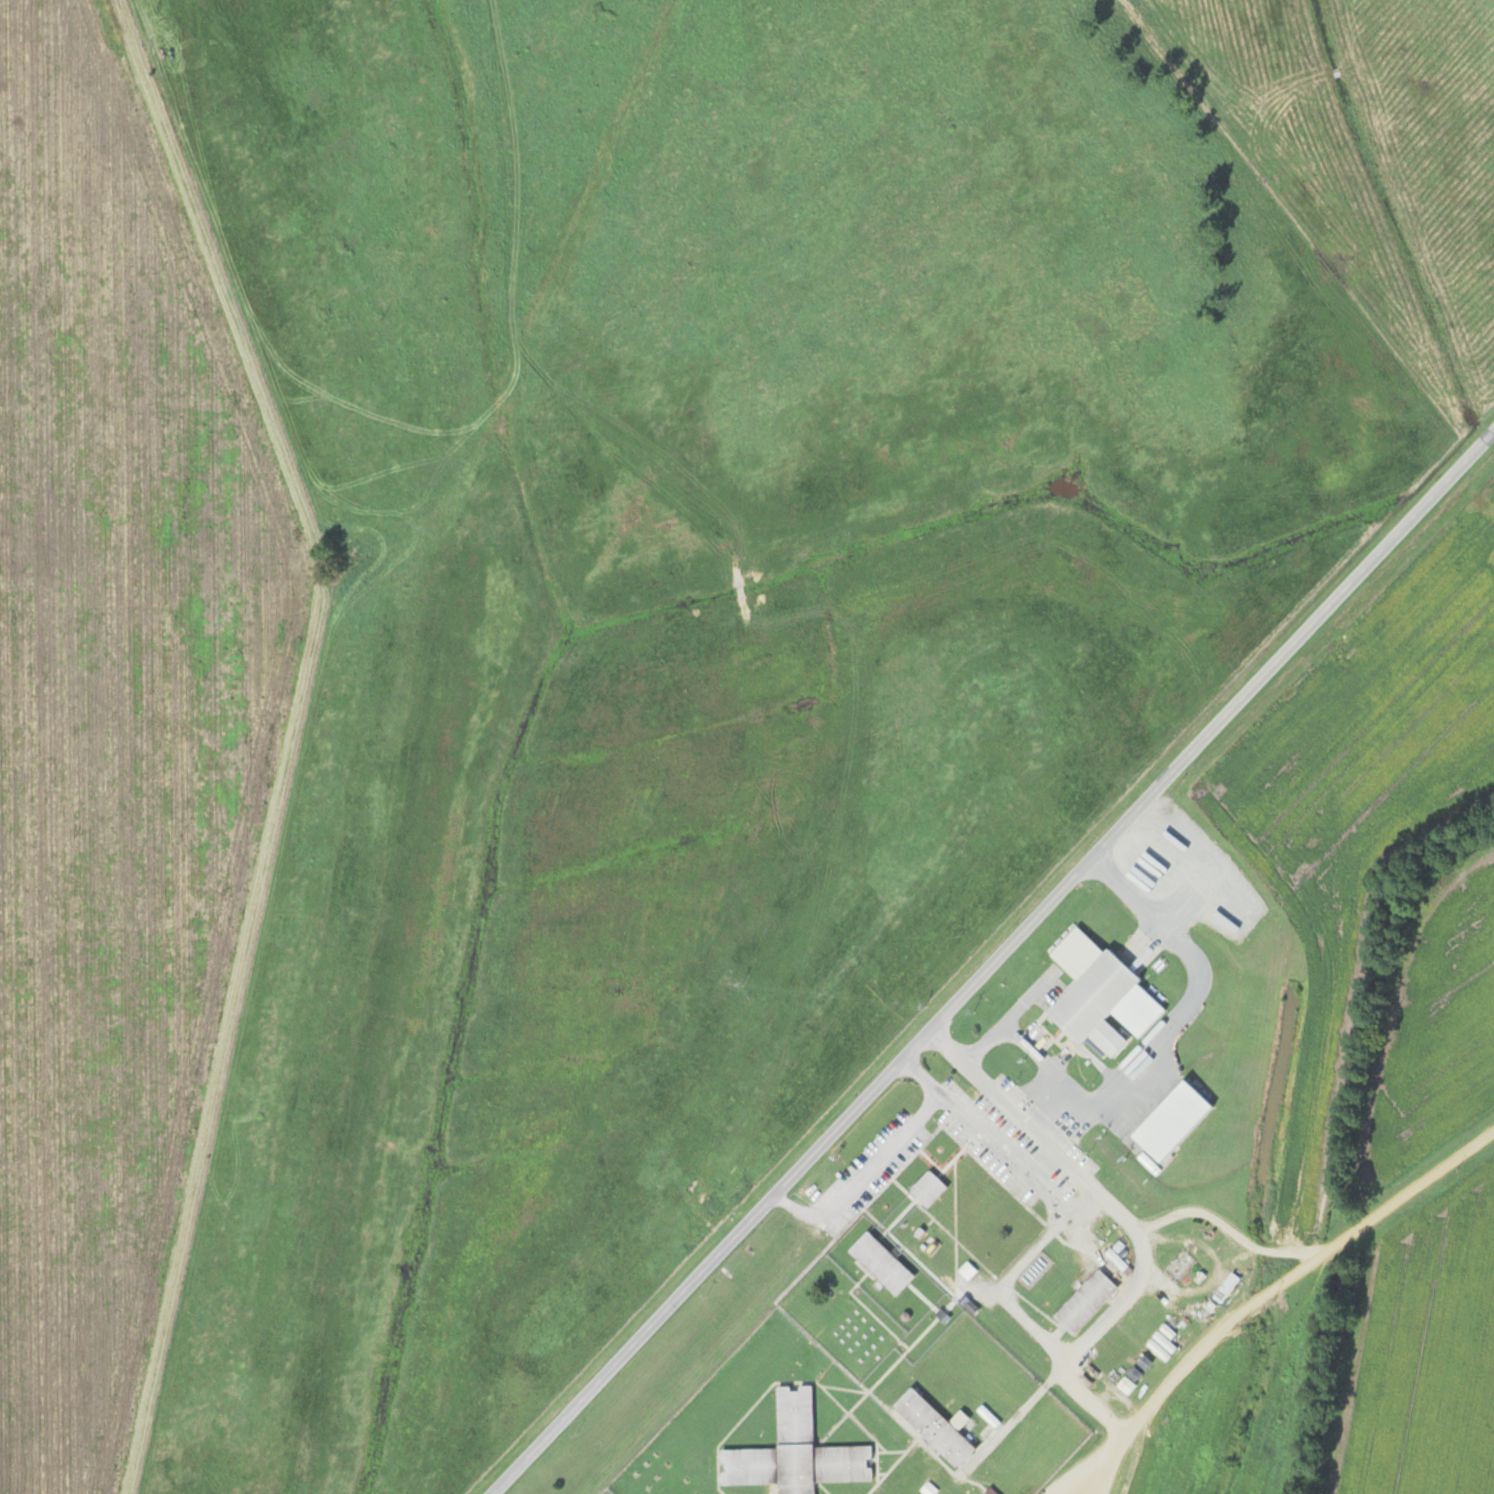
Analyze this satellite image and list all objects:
road: (989, 960)
building: (1098, 996)
road: (1128, 1066)
road: (1051, 1106)
building: (1166, 1125)
road: (863, 1177)
building: (925, 1189)
road: (1082, 1202)
building: (879, 1264)
building: (1224, 1288)
building: (1083, 1302)
road: (1290, 1314)
building: (1161, 1344)
road: (1057, 1349)
building: (1132, 1375)
building: (931, 1428)
building: (793, 1453)
building: (989, 1491)

